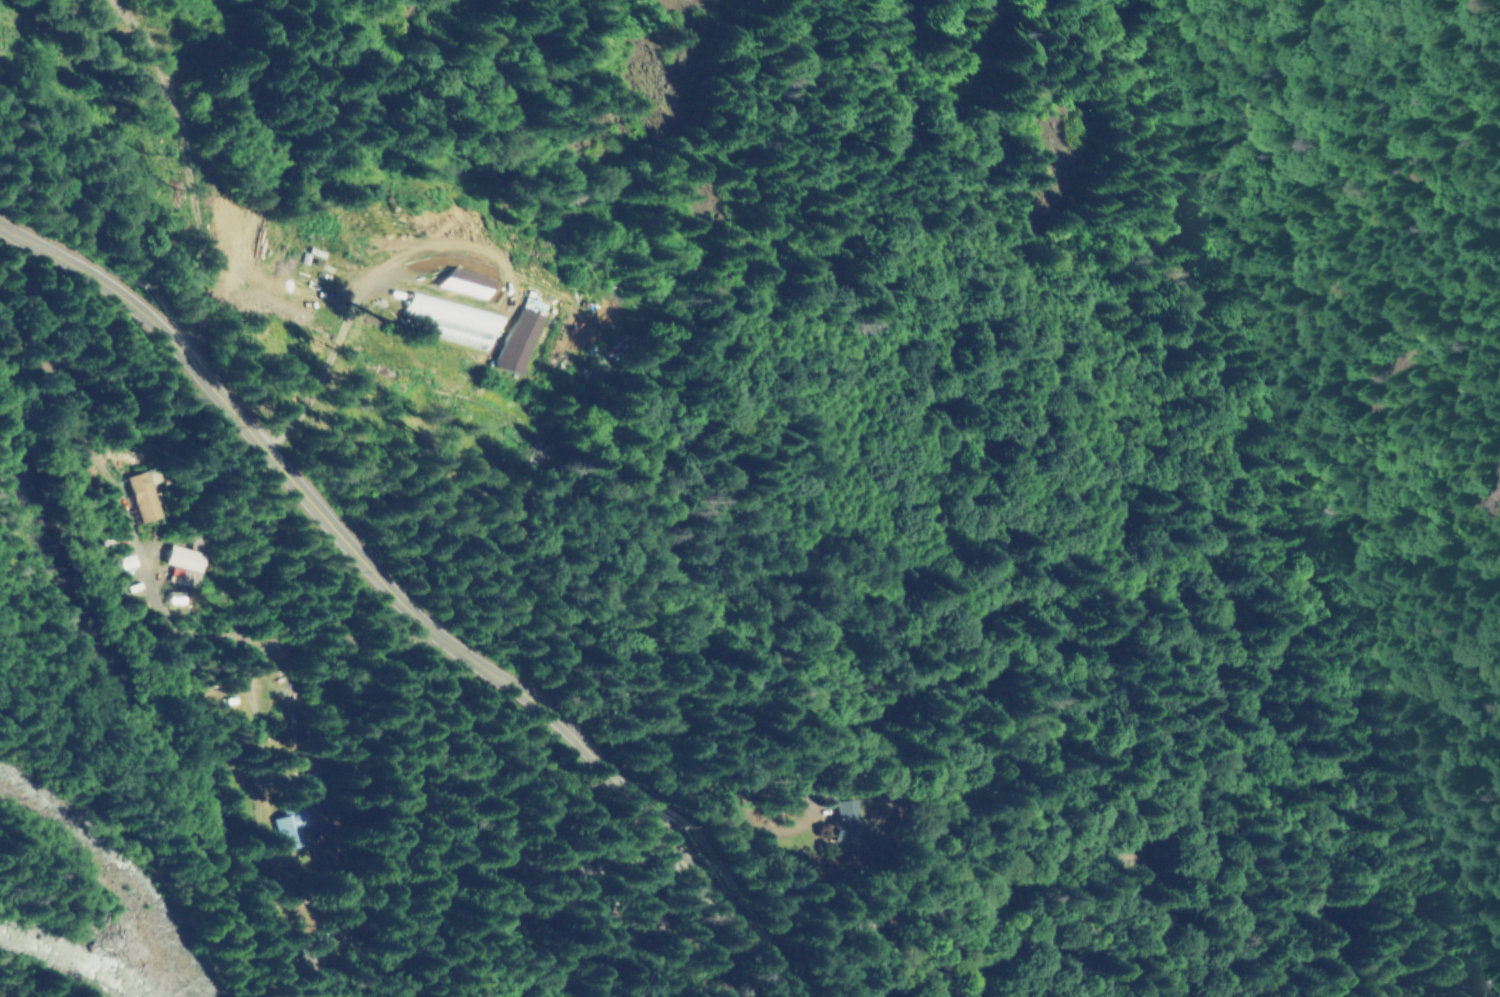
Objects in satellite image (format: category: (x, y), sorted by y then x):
building: (476, 283)
road: (380, 301)
building: (457, 317)
building: (513, 326)
building: (142, 494)
building: (182, 565)
road: (148, 574)
road: (416, 607)
road: (762, 801)
building: (875, 820)
building: (290, 825)
road: (474, 865)
river: (90, 919)
building: (307, 948)

